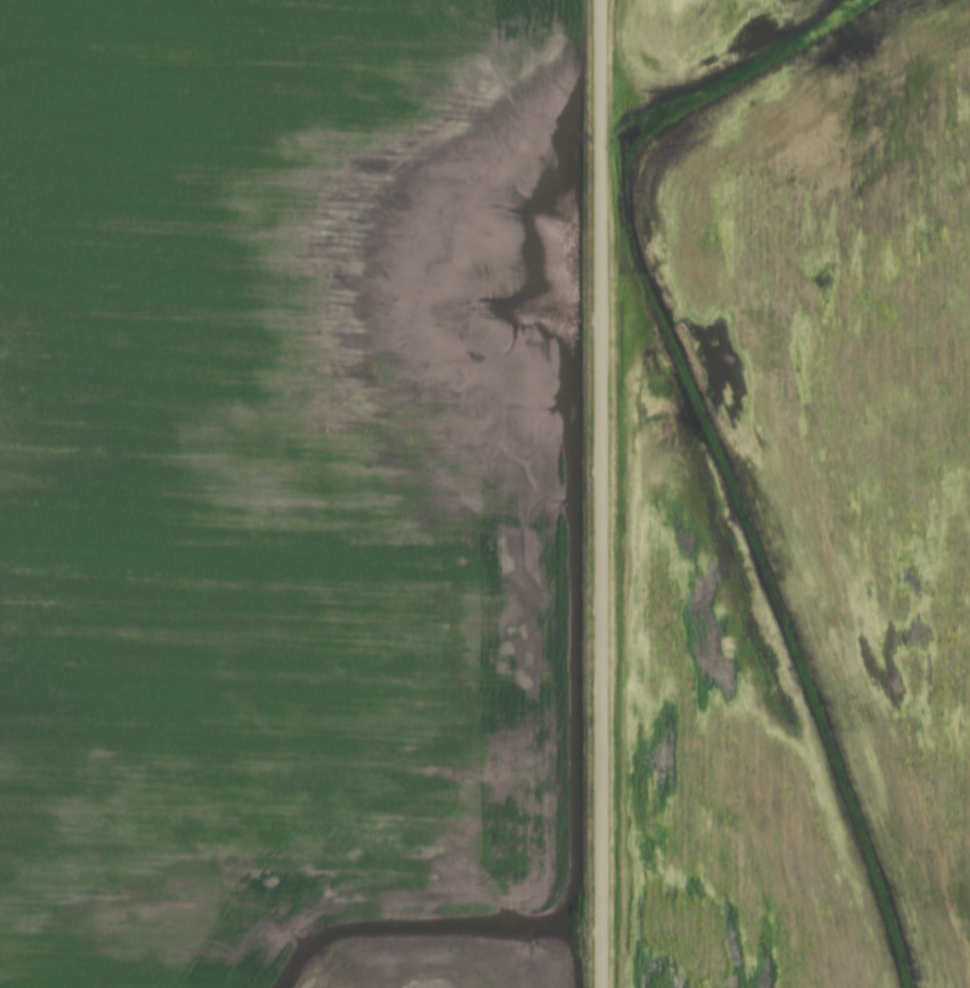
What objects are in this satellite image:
road: (599, 493)

